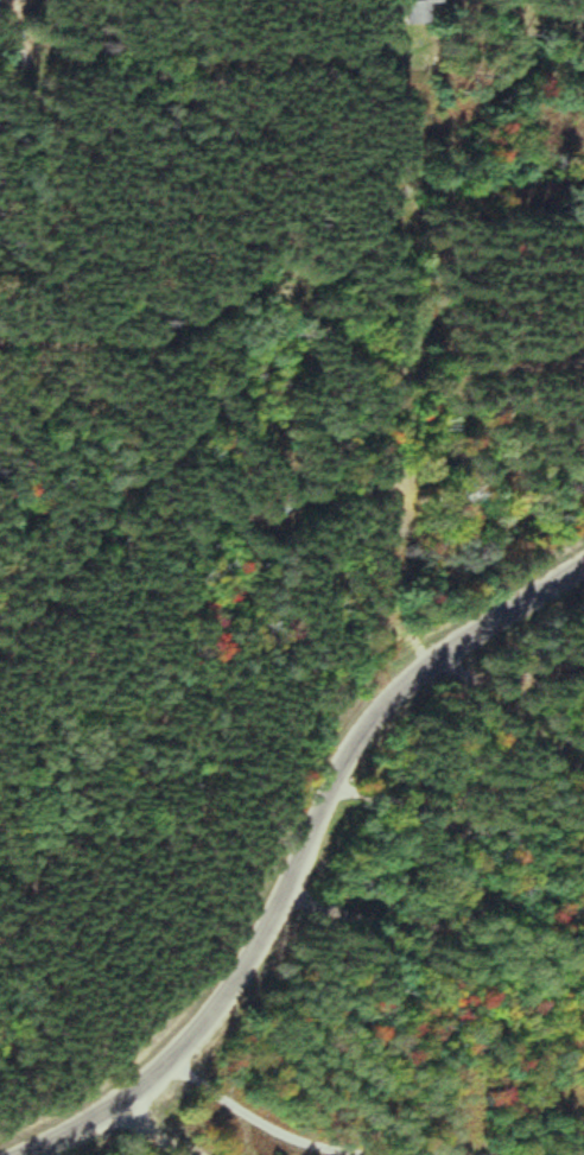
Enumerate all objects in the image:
building: (575, 0)
building: (4, 1)
building: (414, 12)
road: (304, 852)
road: (153, 1135)

